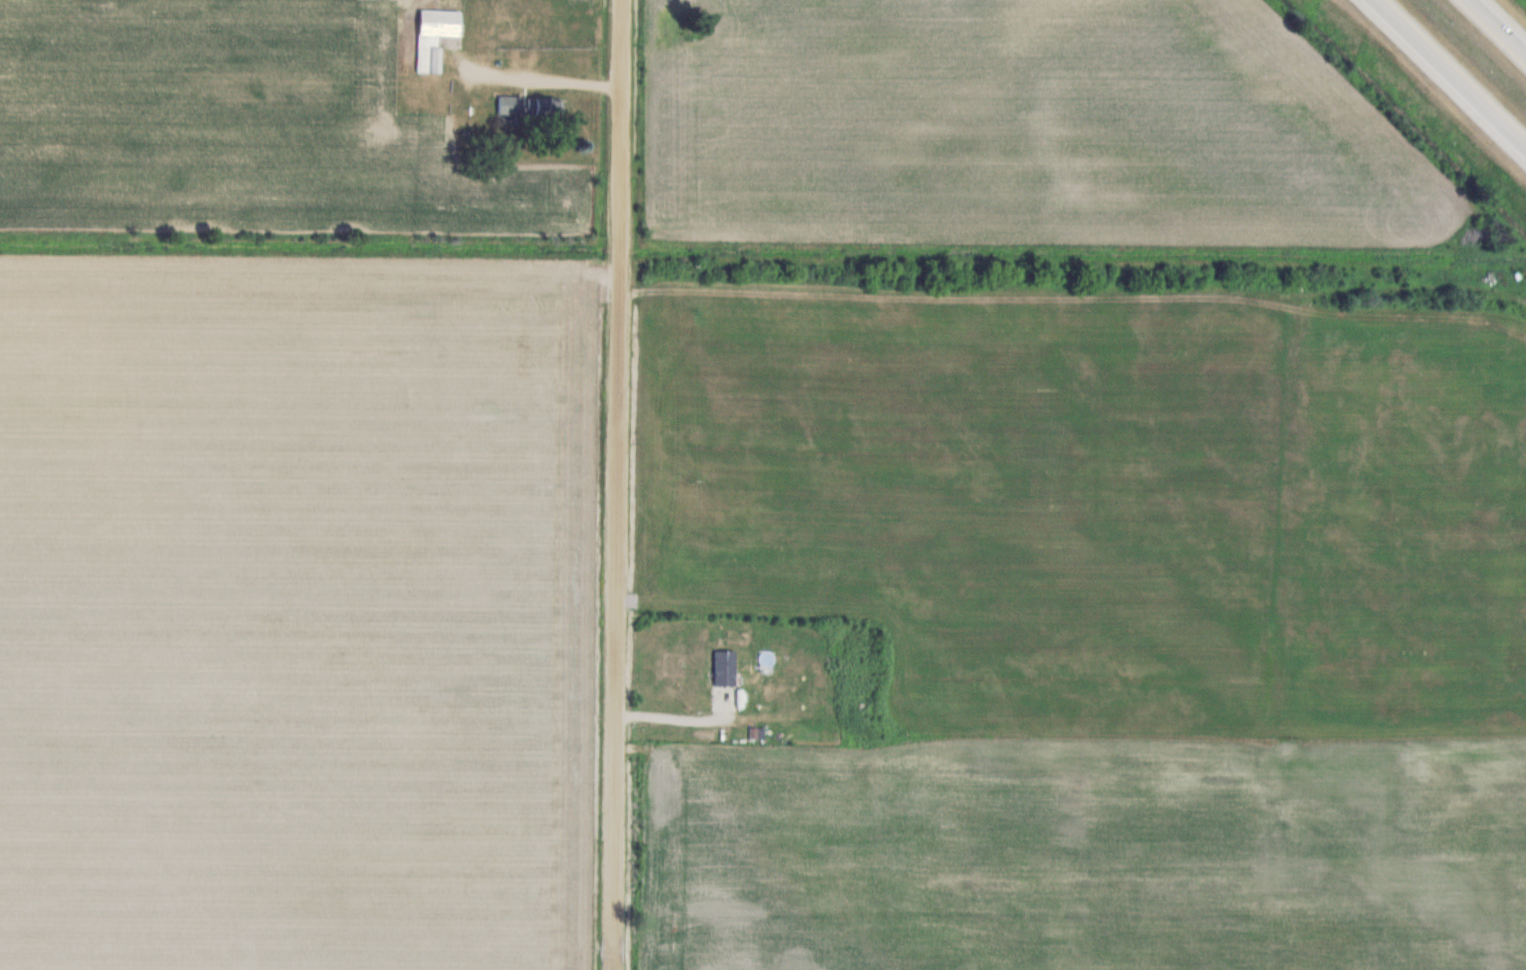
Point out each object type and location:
road: (1498, 26)
building: (436, 36)
road: (1449, 72)
building: (511, 104)
building: (549, 106)
road: (619, 484)
building: (726, 668)

